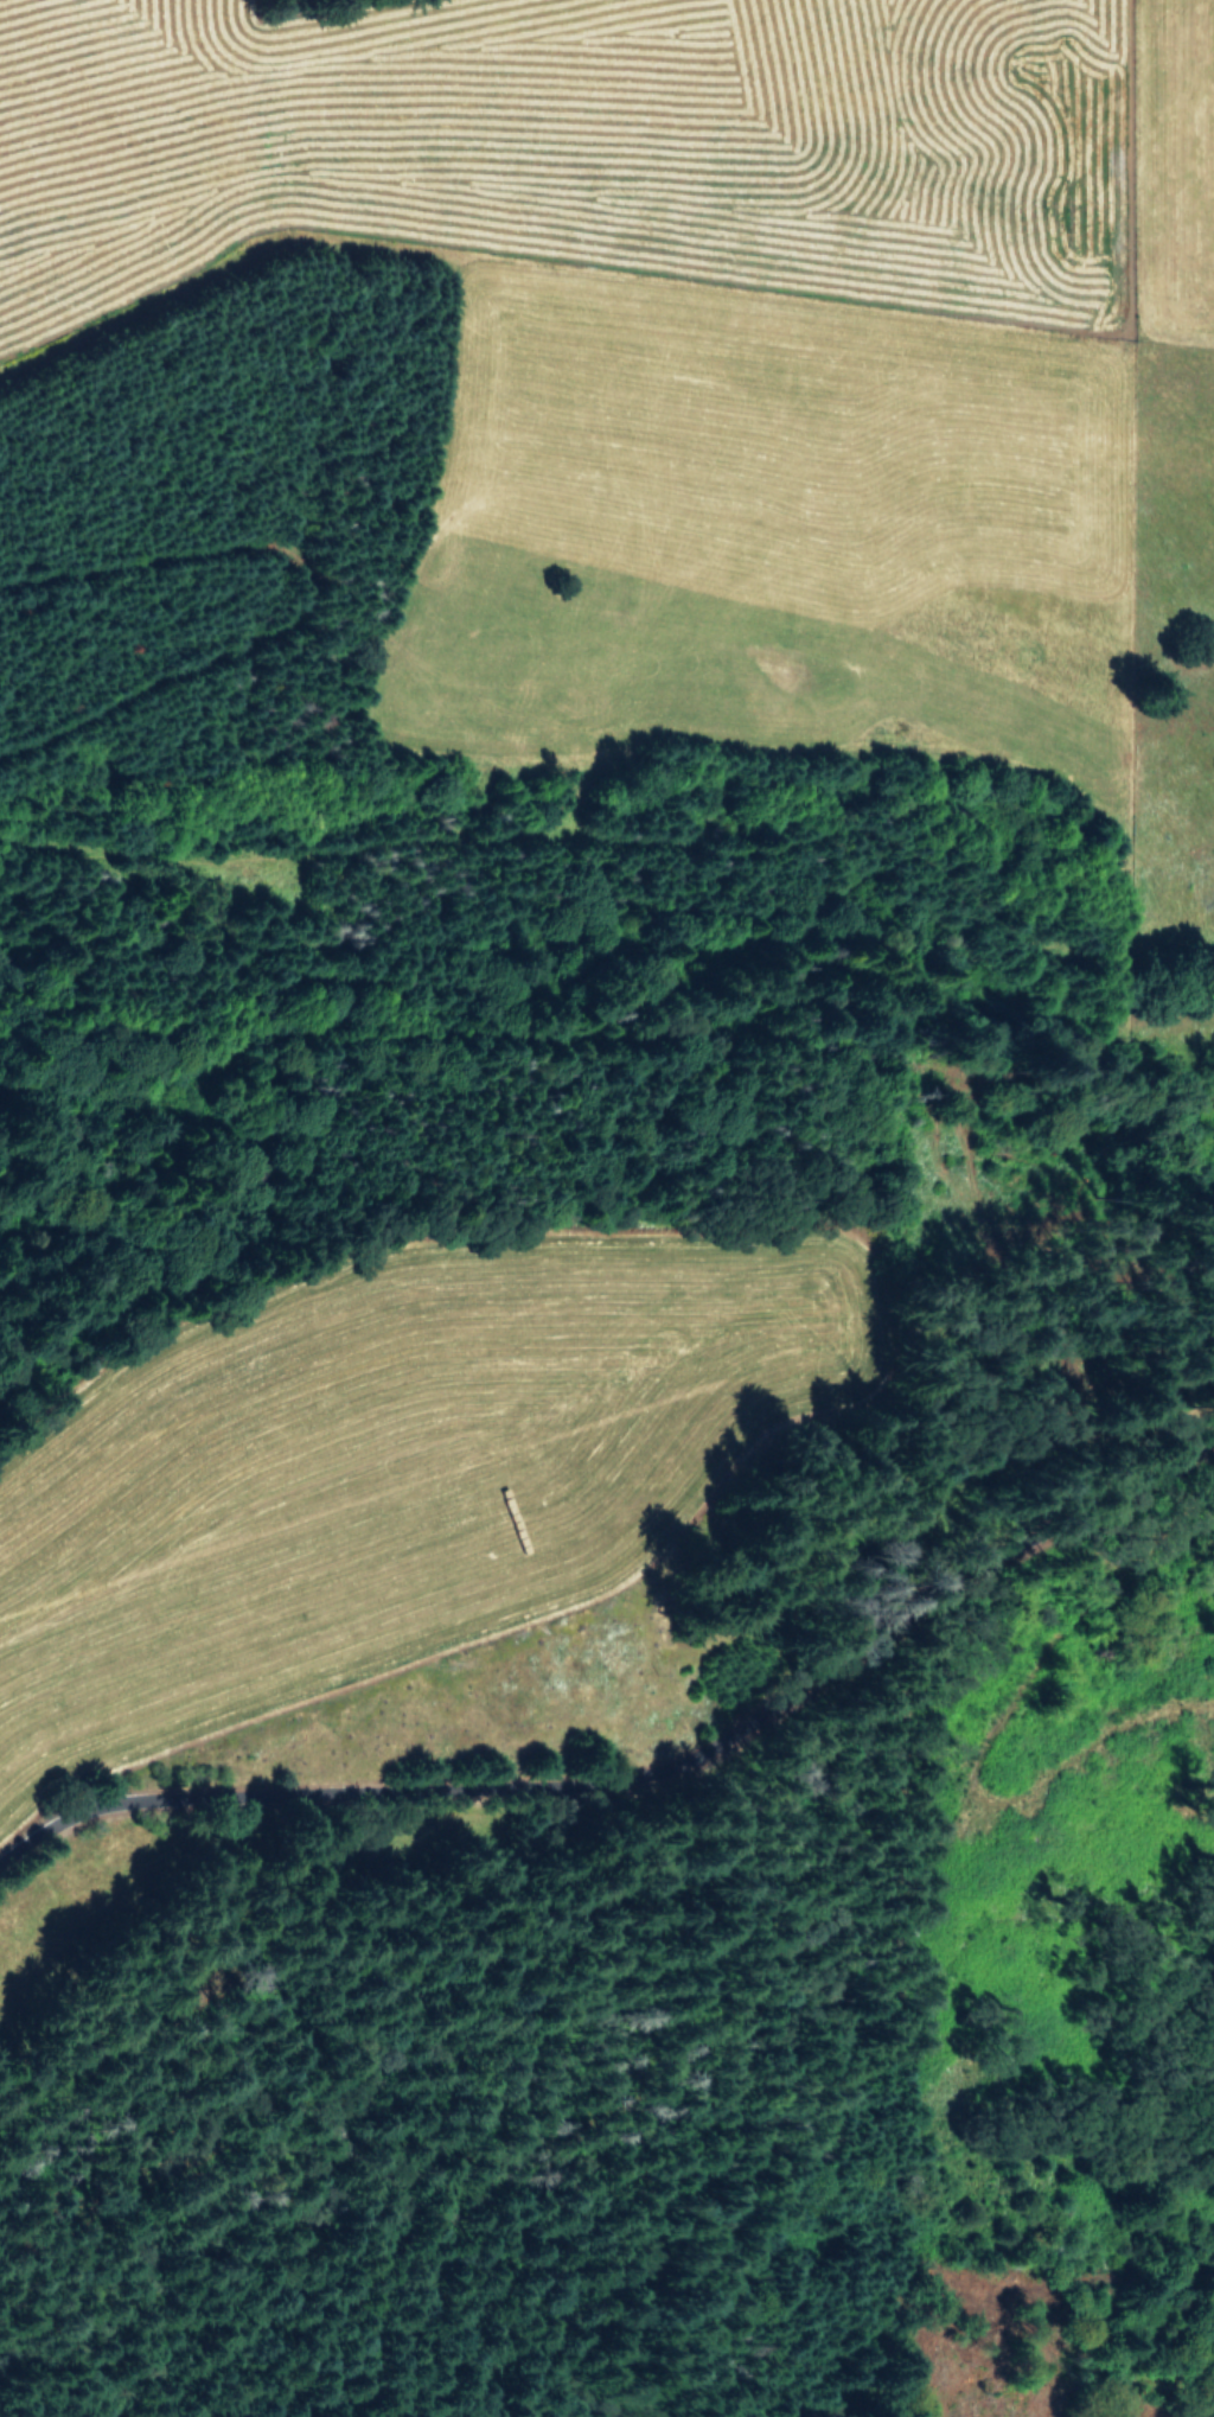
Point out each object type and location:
crop: (715, 337)
road: (648, 1779)

